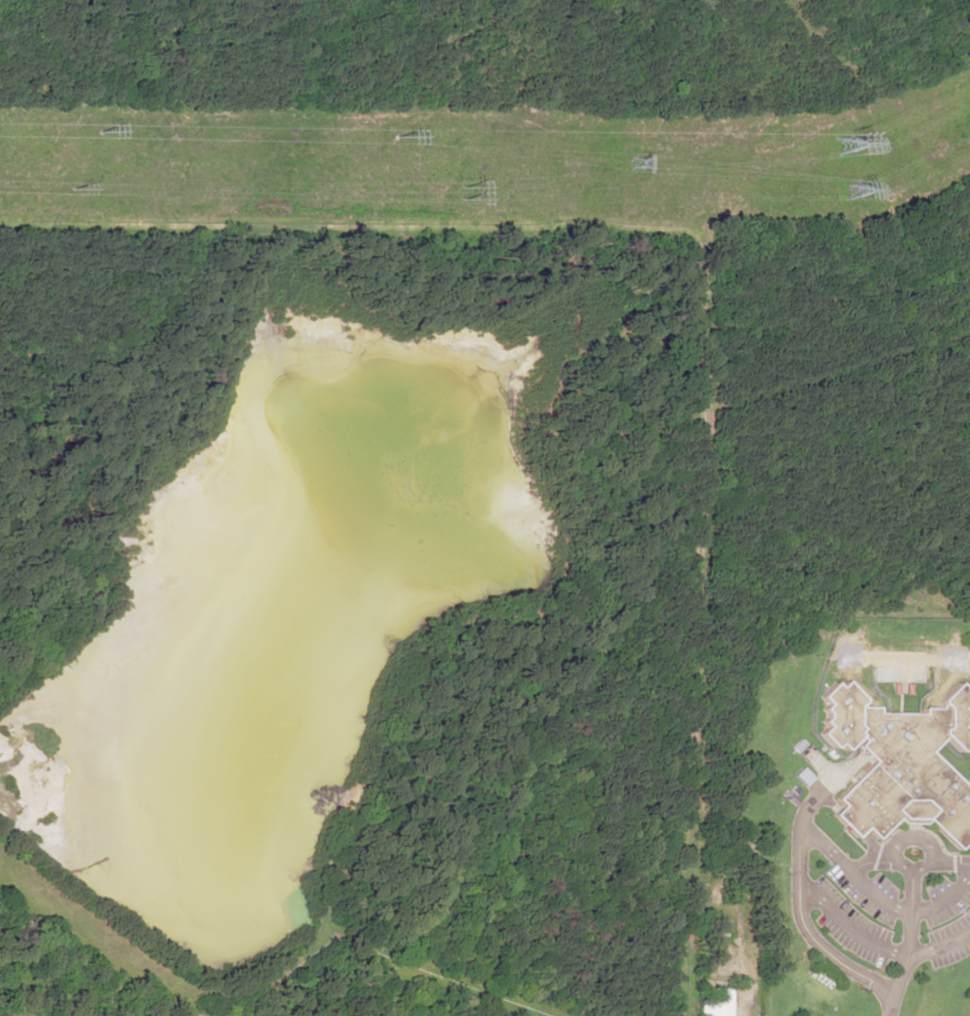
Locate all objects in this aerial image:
power tower: (99, 135)
power tower: (395, 139)
power tower: (841, 146)
power tower: (636, 164)
power tower: (72, 180)
power tower: (462, 185)
power tower: (850, 190)
building: (900, 763)
road: (865, 861)
road: (944, 865)
road: (897, 866)
road: (792, 893)
road: (877, 900)
road: (911, 956)
building: (714, 1001)

